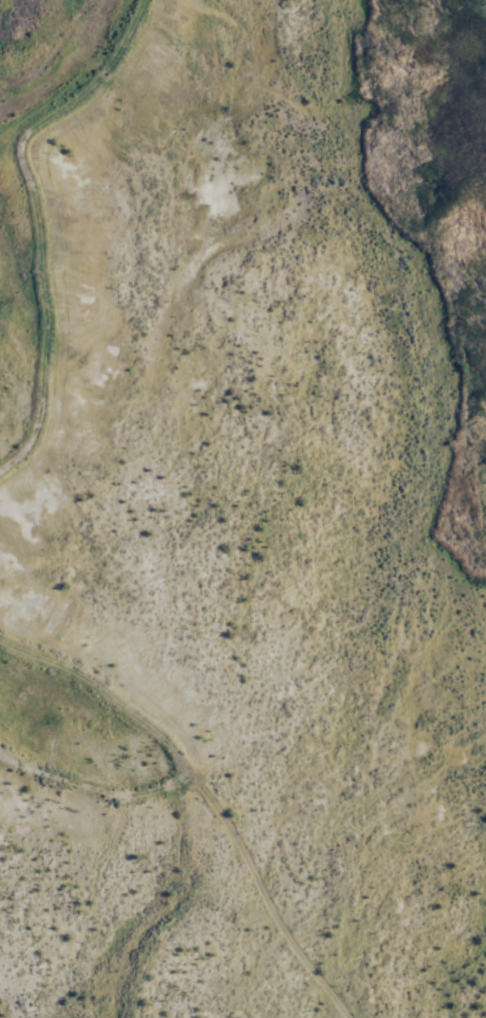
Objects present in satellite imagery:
road: (19, 209)
road: (194, 805)

